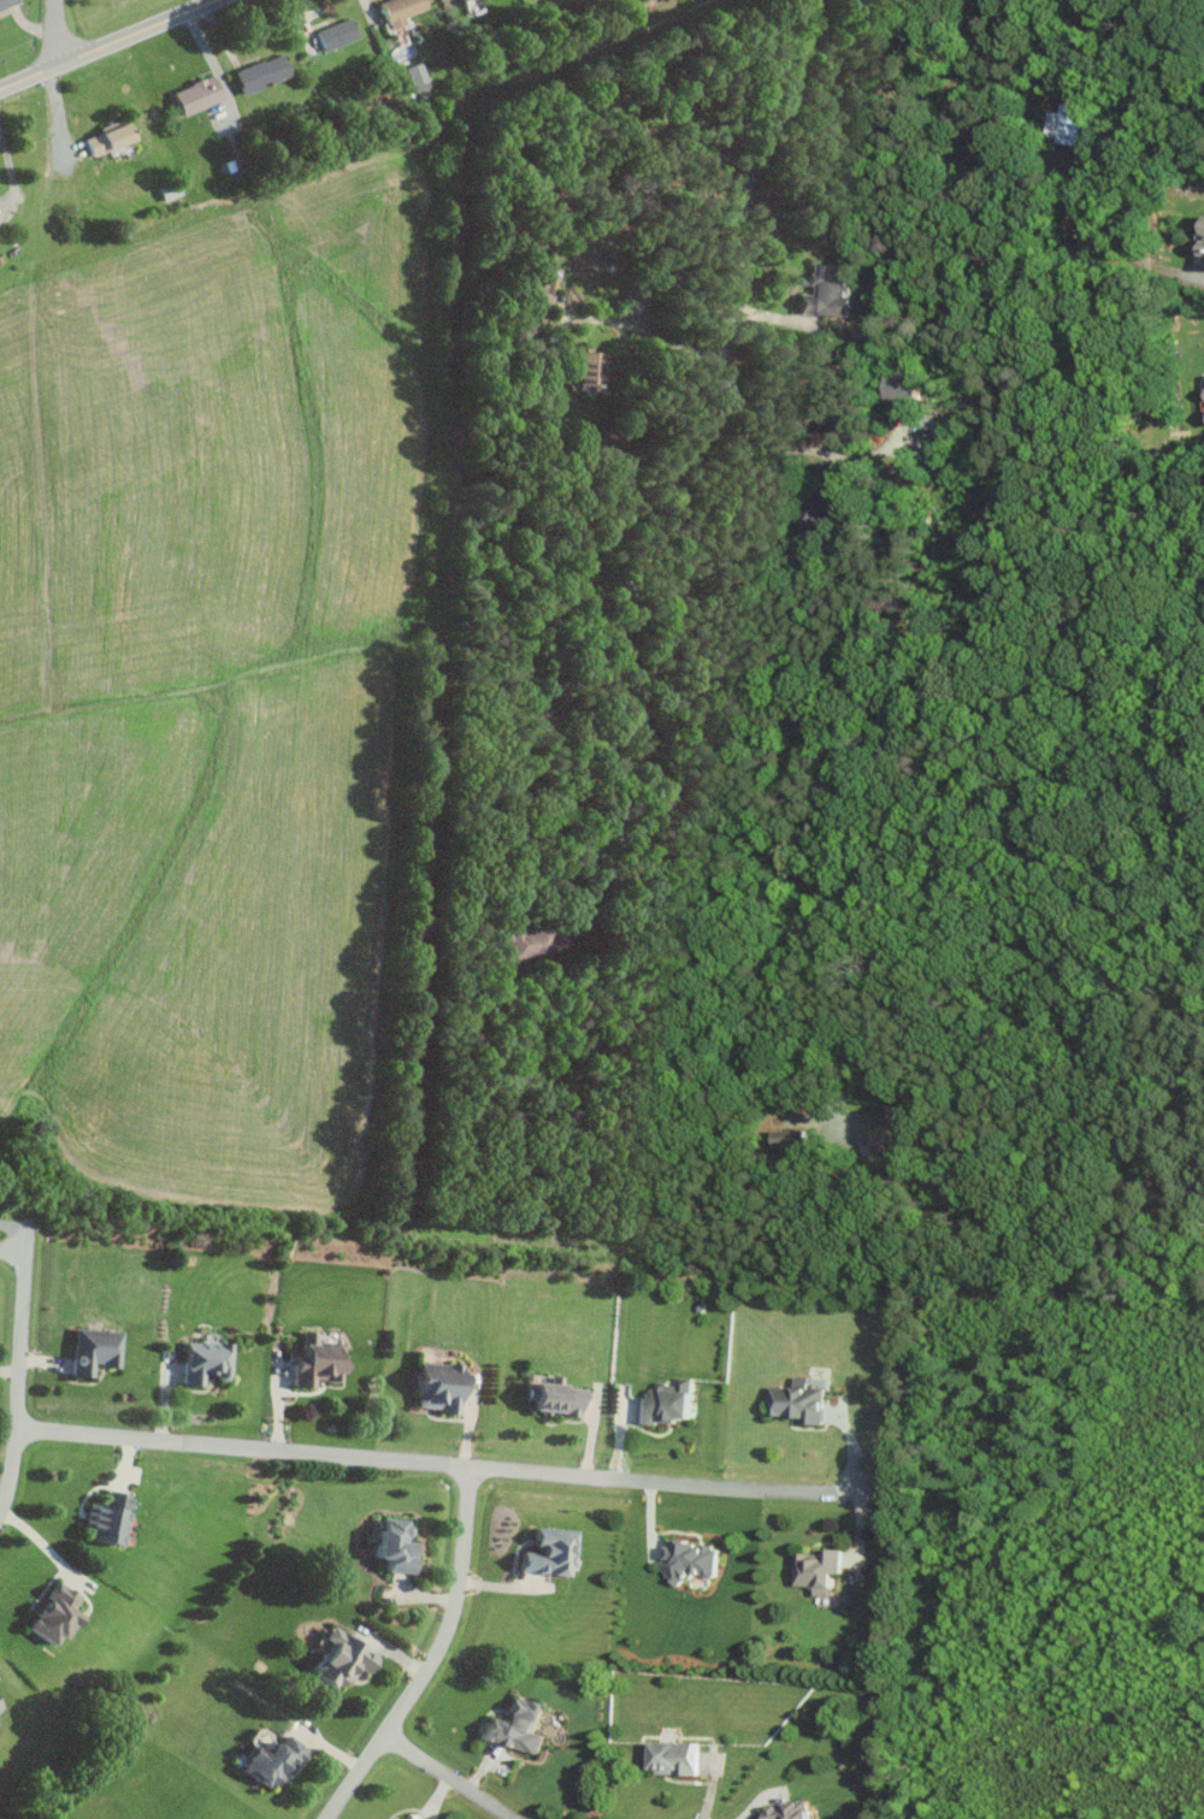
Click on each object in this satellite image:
building: (6, 2)
building: (396, 10)
road: (57, 34)
building: (334, 34)
road: (108, 45)
road: (214, 64)
building: (259, 73)
building: (414, 76)
building: (193, 95)
building: (1062, 123)
building: (104, 137)
road: (10, 171)
building: (1200, 237)
road: (1122, 256)
building: (1203, 262)
building: (544, 283)
building: (824, 291)
road: (647, 332)
building: (586, 372)
building: (899, 386)
road: (765, 448)
building: (815, 515)
road: (543, 609)
road: (512, 787)
building: (529, 938)
road: (781, 1008)
road: (1091, 1087)
building: (885, 1128)
building: (789, 1139)
road: (16, 1224)
building: (89, 1348)
building: (200, 1359)
building: (313, 1360)
road: (18, 1375)
building: (435, 1386)
building: (549, 1396)
building: (661, 1401)
building: (792, 1401)
road: (430, 1463)
building: (101, 1519)
building: (390, 1543)
road: (49, 1548)
building: (545, 1552)
building: (687, 1559)
building: (814, 1569)
building: (48, 1612)
road: (436, 1654)
building: (337, 1659)
building: (513, 1725)
building: (667, 1756)
building: (266, 1759)
road: (449, 1777)
road: (752, 1802)
building: (783, 1809)
building: (408, 1817)
building: (386, 1818)

